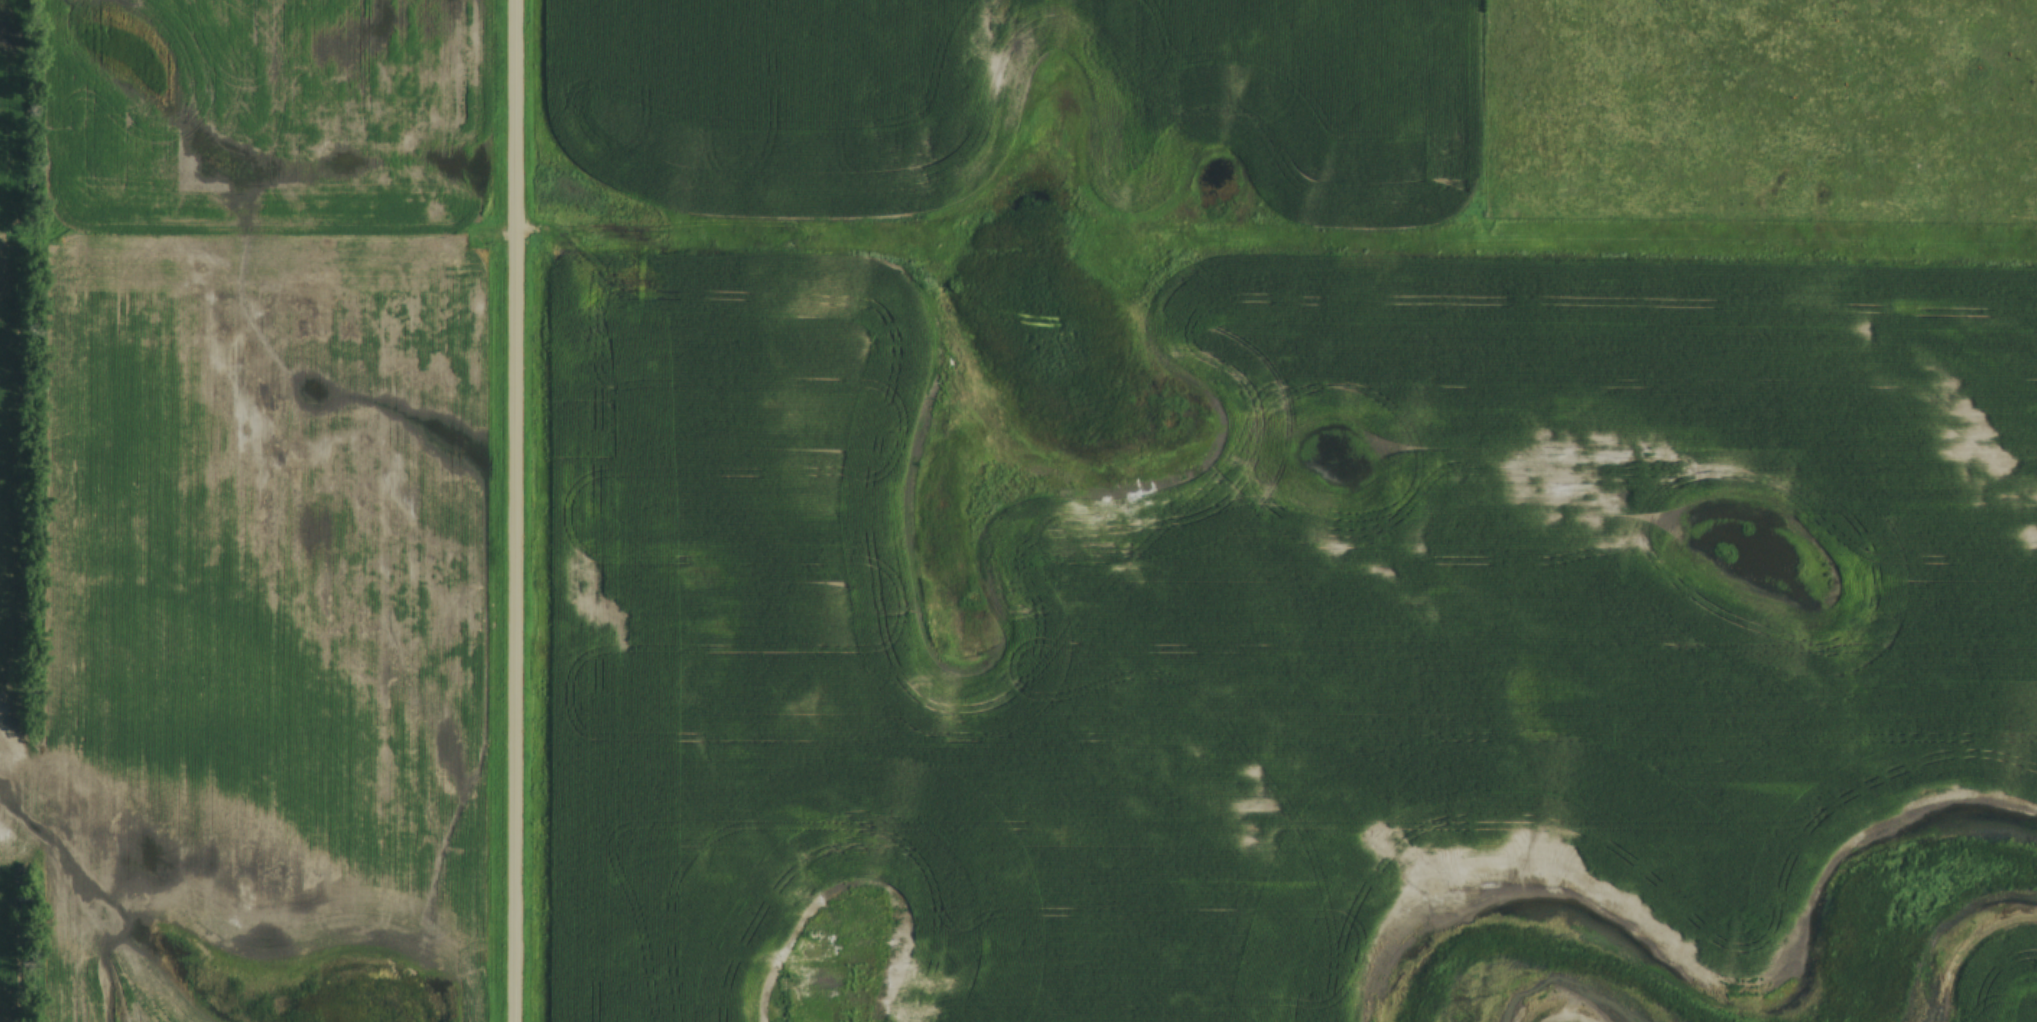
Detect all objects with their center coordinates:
road: (516, 511)

